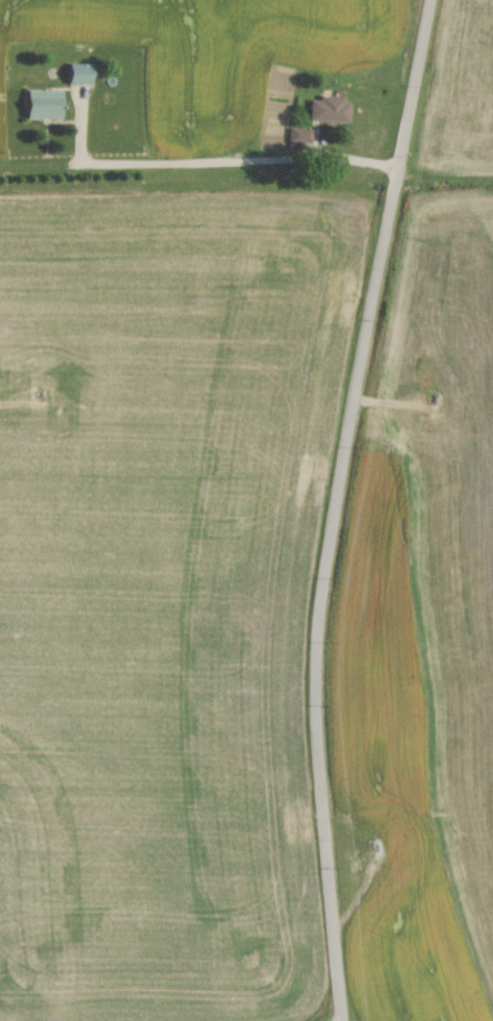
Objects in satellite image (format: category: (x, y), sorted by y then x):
building: (80, 78)
building: (44, 110)
building: (326, 116)
building: (299, 141)
road: (213, 164)
road: (14, 409)
road: (334, 507)

